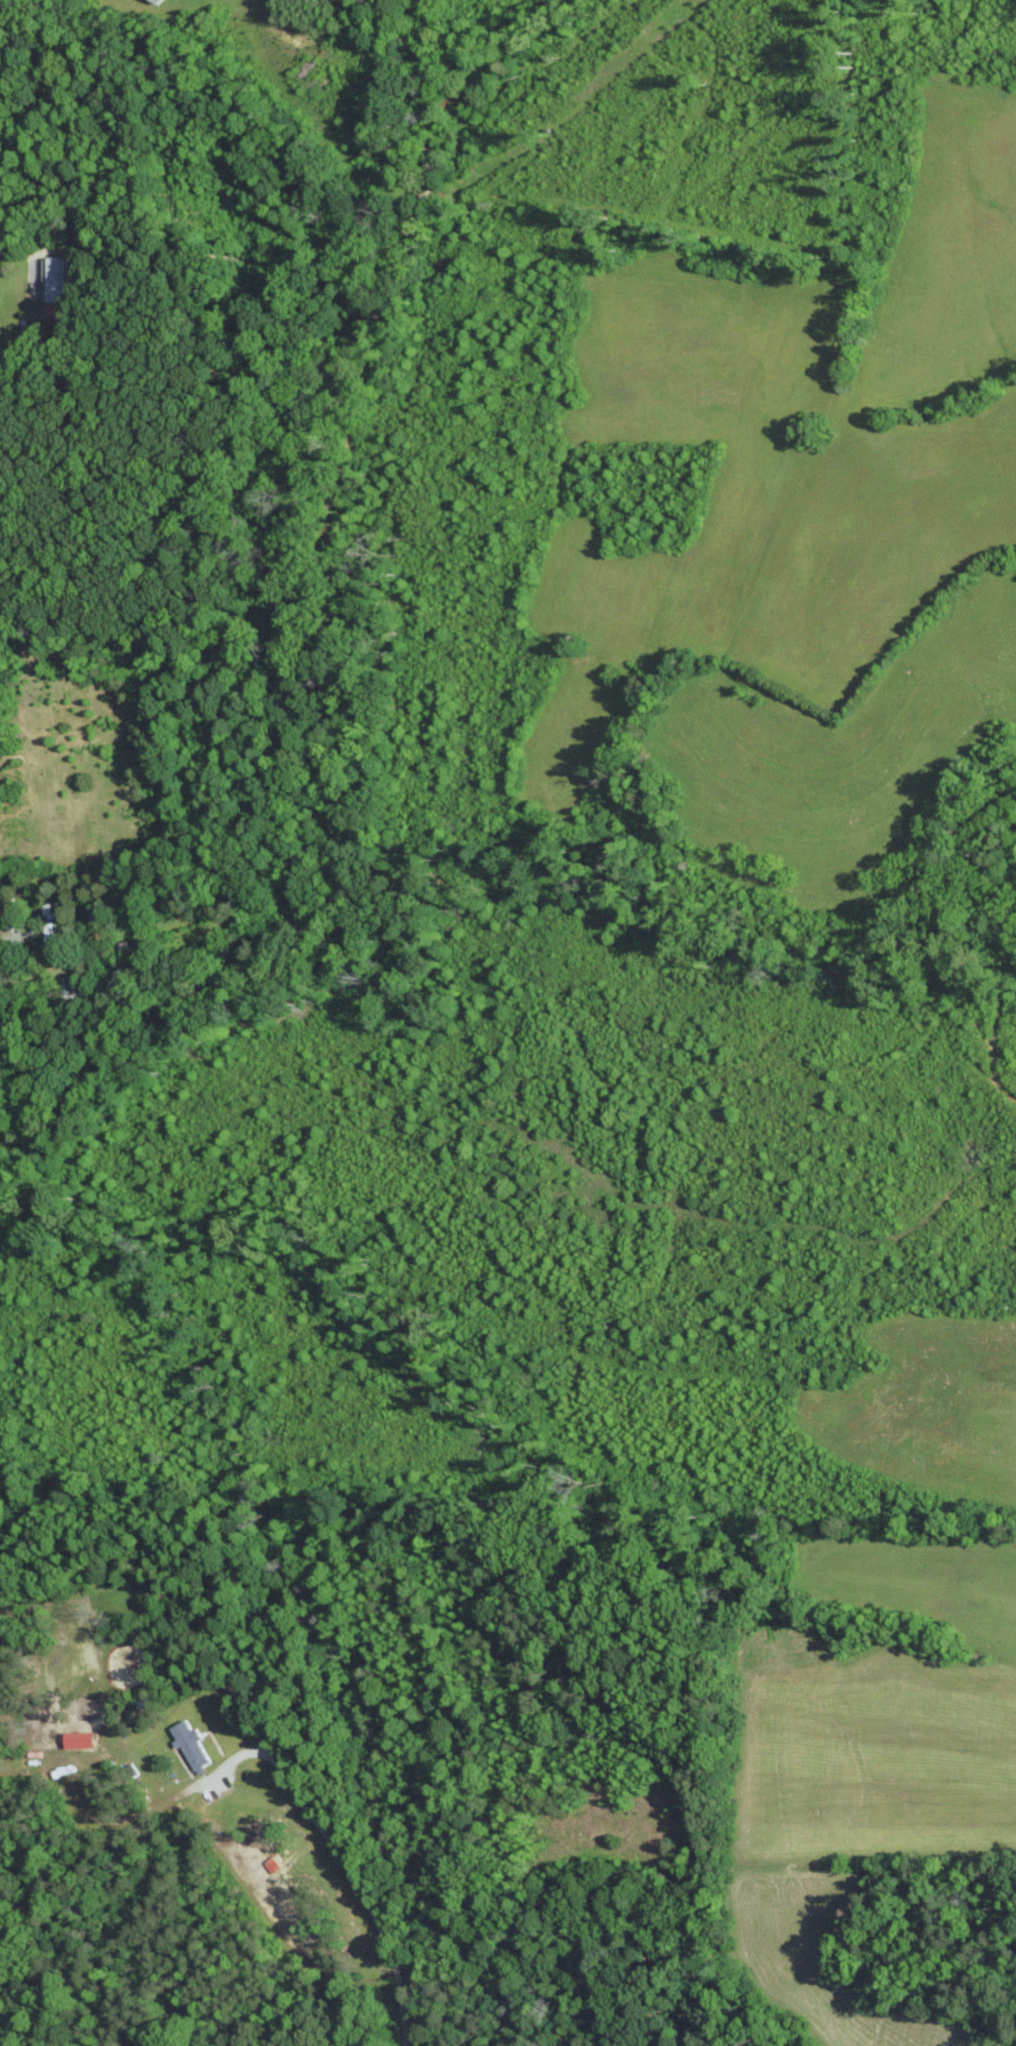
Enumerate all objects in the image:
building: (160, 1)
road: (12, 249)
building: (60, 278)
road: (1, 943)
building: (83, 1739)
building: (193, 1745)
building: (275, 1865)
road: (346, 1866)

